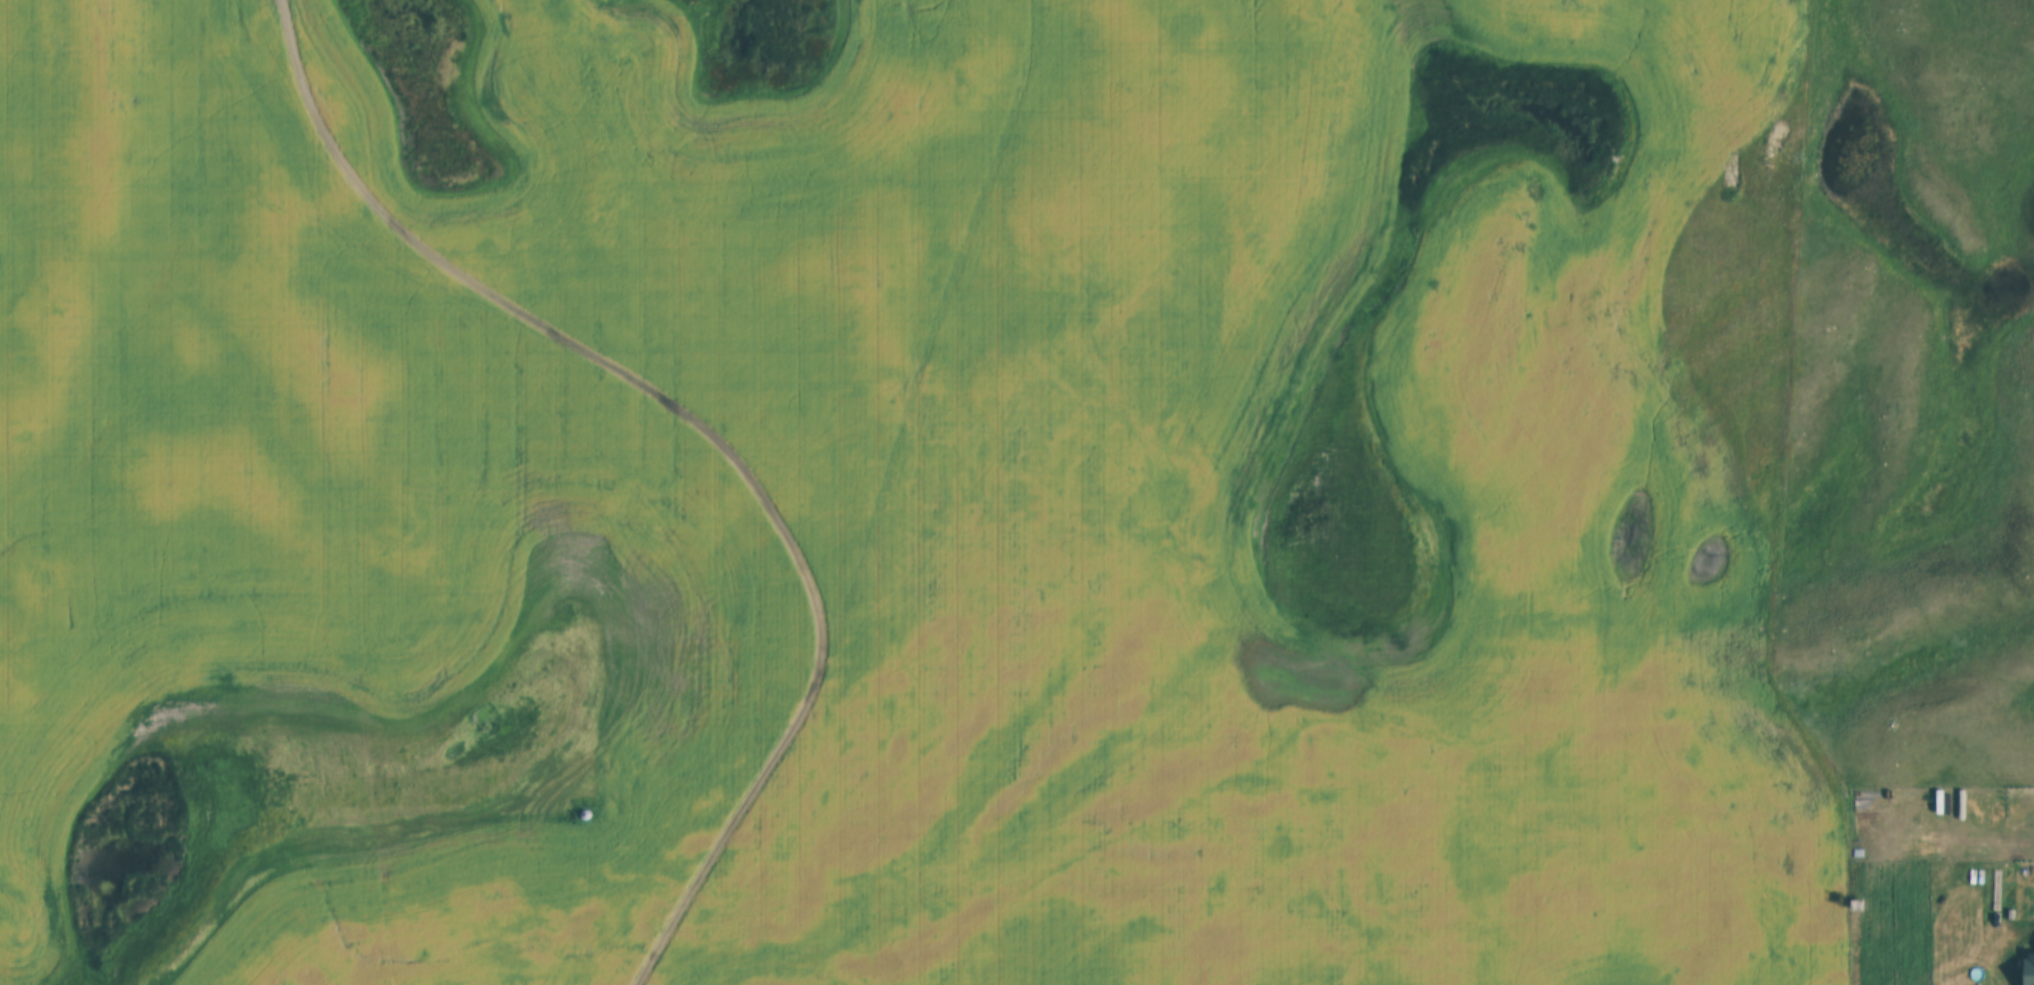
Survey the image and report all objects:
road: (289, 511)
building: (2027, 970)

